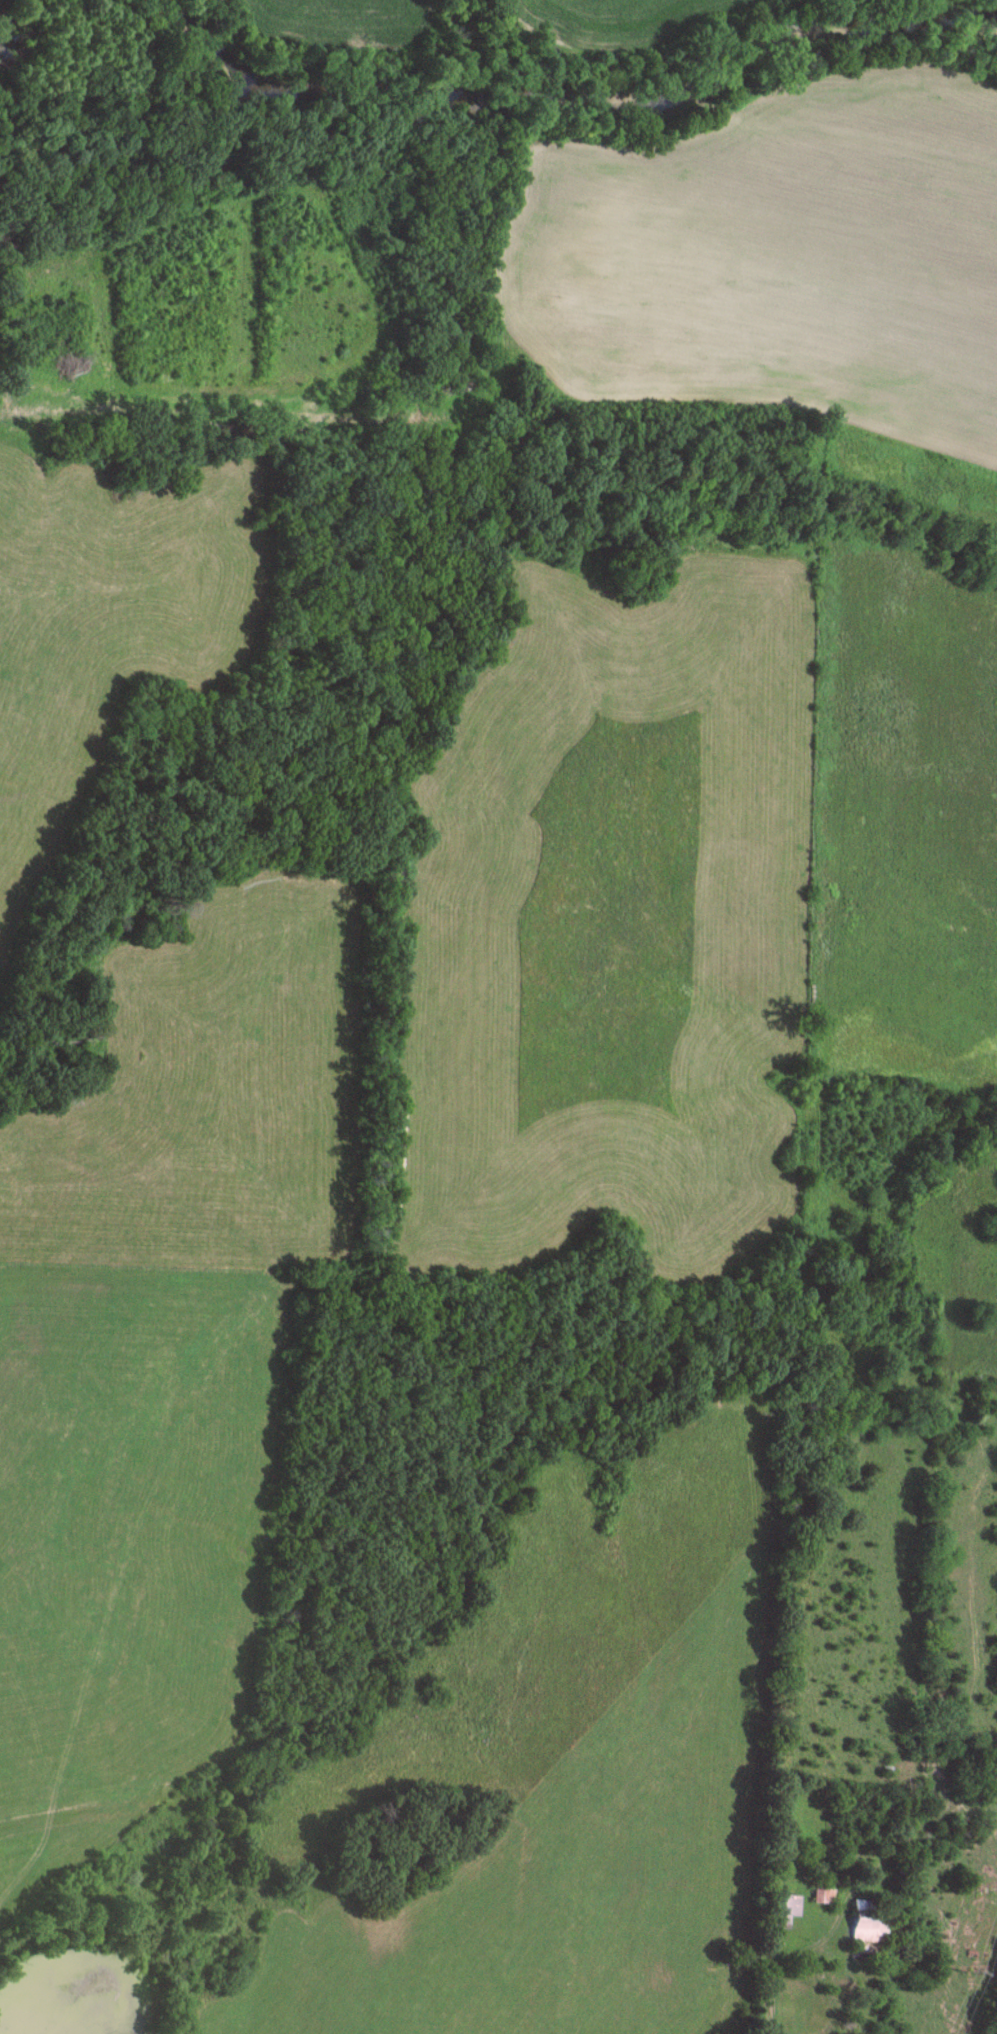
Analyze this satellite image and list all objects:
building: (826, 1894)
building: (786, 1904)
building: (871, 1920)
road: (773, 1992)

